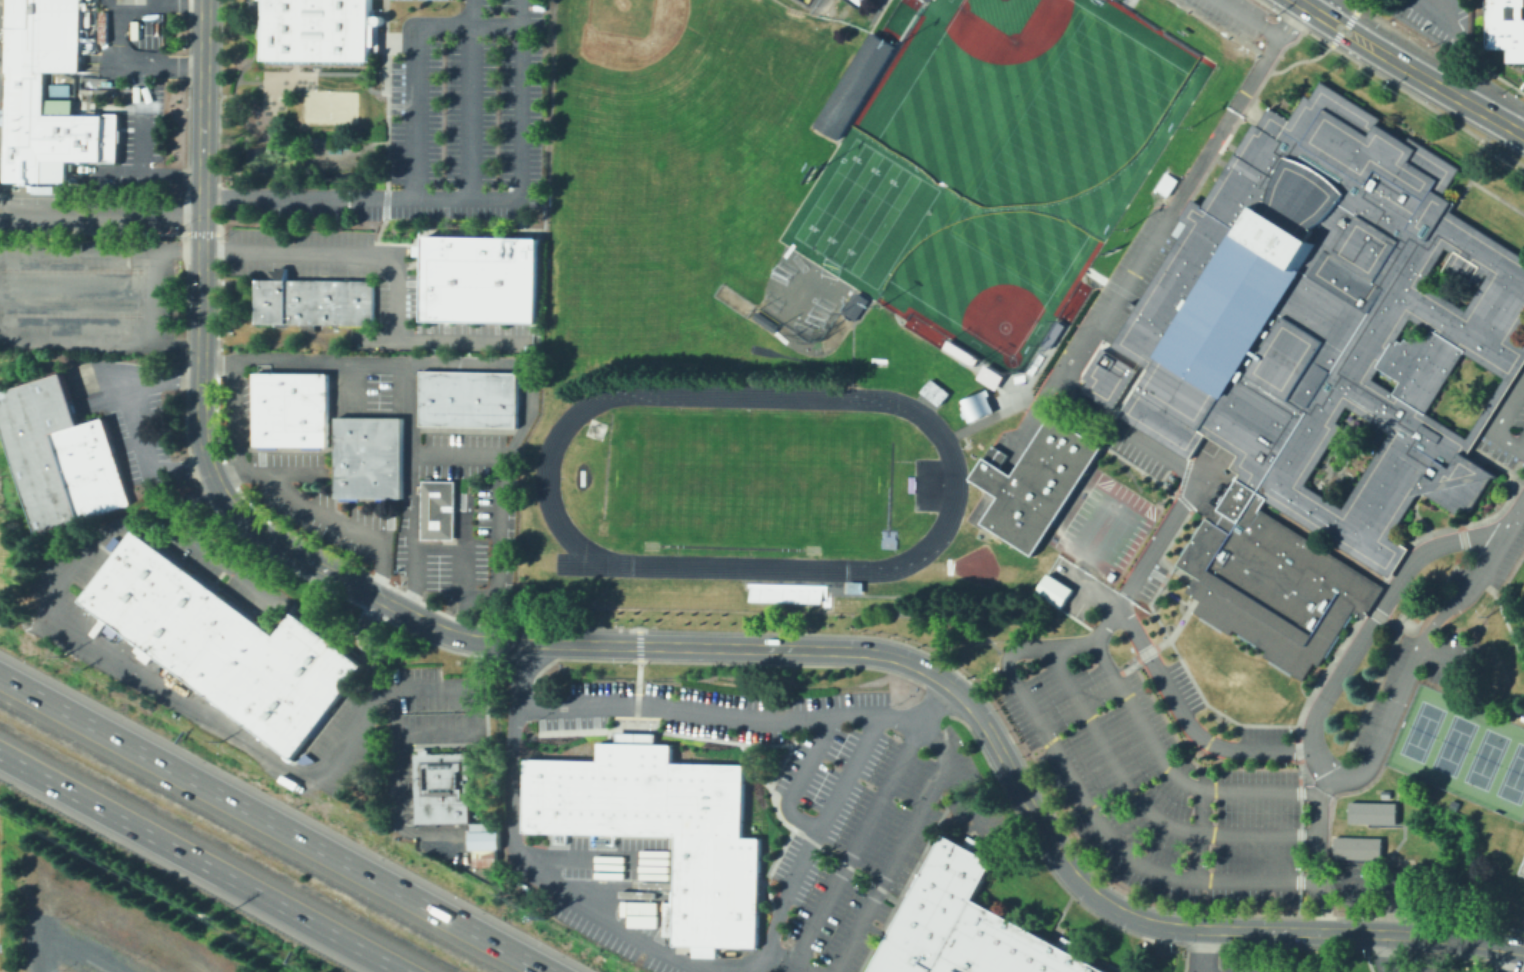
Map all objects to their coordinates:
road: (149, 2)
road: (1124, 2)
road: (1270, 3)
road: (1356, 6)
road: (1310, 8)
road: (1327, 8)
stadium: (810, 9)
parking lot: (1233, 14)
road: (1248, 17)
road: (1286, 17)
park: (896, 19)
road: (1348, 19)
parking lot: (1441, 21)
road: (1349, 22)
building: (85, 26)
building: (1505, 26)
building: (316, 29)
road: (1341, 29)
building: (93, 36)
road: (1334, 37)
road: (1340, 37)
road: (1456, 42)
park: (635, 47)
road: (412, 60)
road: (1294, 60)
road: (173, 68)
road: (141, 78)
building: (23, 83)
building: (852, 83)
building: (90, 84)
building: (107, 84)
building: (57, 88)
road: (1445, 90)
parking lot: (123, 93)
road: (471, 99)
road: (1426, 105)
park: (328, 106)
park: (1029, 106)
road: (1247, 108)
road: (1270, 122)
parking lot: (452, 124)
road: (1521, 127)
road: (1403, 138)
road: (1422, 142)
park: (1064, 151)
building: (1226, 170)
road: (126, 172)
road: (1469, 177)
silo: (74, 180)
road: (1496, 196)
road: (459, 198)
road: (1178, 204)
road: (101, 210)
road: (1191, 211)
park: (864, 212)
road: (1446, 213)
parking lot: (1143, 226)
building: (1178, 227)
park: (633, 230)
building: (1481, 235)
road: (77, 248)
road: (178, 250)
road: (394, 272)
building: (478, 277)
building: (1158, 279)
building: (1451, 279)
park: (991, 280)
road: (76, 292)
parking lot: (89, 292)
park: (731, 298)
building: (312, 299)
parking lot: (397, 300)
park: (1071, 300)
building: (853, 305)
building: (763, 320)
building: (1408, 327)
park: (695, 329)
park: (923, 329)
building: (1050, 333)
road: (117, 334)
road: (1088, 340)
road: (201, 342)
parking lot: (1071, 345)
road: (1513, 345)
building: (958, 351)
track: (777, 353)
road: (1116, 353)
building: (1310, 359)
road: (1146, 360)
road: (459, 362)
building: (988, 376)
building: (1106, 377)
building: (1378, 379)
road: (347, 383)
building: (289, 389)
building: (932, 390)
road: (1126, 391)
building: (1496, 392)
building: (431, 396)
building: (455, 397)
building: (480, 397)
building: (504, 398)
road: (1492, 399)
road: (1020, 400)
building: (975, 405)
parking lot: (129, 415)
road: (138, 419)
road: (1497, 420)
parking lot: (1507, 426)
building: (271, 427)
building: (309, 427)
road: (1204, 429)
road: (1015, 441)
building: (1225, 446)
road: (1462, 446)
road: (1522, 447)
road: (1193, 449)
building: (59, 453)
parking lot: (1134, 454)
road: (1473, 454)
building: (351, 456)
building: (384, 456)
building: (1343, 456)
park: (648, 462)
building: (987, 465)
road: (289, 474)
road: (229, 475)
park: (747, 479)
parking lot: (284, 481)
track: (954, 481)
building: (997, 481)
building: (1040, 483)
track: (888, 485)
road: (410, 488)
park: (885, 506)
building: (436, 508)
road: (1497, 510)
road: (1415, 514)
building: (1299, 517)
parking lot: (1101, 525)
road: (1177, 528)
road: (498, 538)
road: (1389, 542)
road: (436, 546)
track: (729, 546)
parking lot: (1494, 548)
road: (211, 551)
road: (1393, 559)
road: (1084, 562)
park: (948, 565)
road: (463, 578)
road: (1382, 580)
parking lot: (1149, 581)
road: (1196, 581)
building: (1188, 583)
building: (852, 586)
building: (1195, 586)
parking lot: (1076, 588)
building: (1052, 589)
road: (1199, 589)
building: (1191, 594)
road: (1174, 595)
park: (1521, 596)
road: (1430, 598)
road: (1368, 600)
building: (1366, 601)
road: (1365, 607)
building: (1364, 610)
building: (1356, 614)
road: (916, 615)
building: (1346, 619)
building: (1209, 623)
road: (1369, 624)
road: (1507, 626)
road: (445, 631)
parking lot: (83, 639)
building: (1247, 640)
road: (1159, 642)
building: (223, 643)
building: (1330, 645)
building: (141, 652)
parking lot: (1451, 662)
building: (1278, 667)
road: (1188, 676)
parking lot: (1184, 684)
parking lot: (1390, 700)
road: (1390, 715)
road: (740, 720)
road: (1187, 722)
road: (478, 727)
park: (1420, 731)
parking lot: (1263, 733)
road: (393, 740)
park: (1452, 744)
park: (1484, 758)
road: (1301, 768)
road: (950, 769)
road: (1172, 771)
park: (1513, 775)
road: (307, 777)
road: (798, 779)
road: (1075, 783)
parking lot: (400, 786)
building: (439, 786)
road: (1021, 792)
building: (1383, 793)
road: (1141, 803)
parking lot: (1177, 803)
building: (1452, 804)
building: (1371, 811)
parking lot: (802, 812)
road: (275, 823)
building: (660, 828)
road: (1200, 835)
road: (853, 840)
building: (483, 842)
road: (813, 843)
building: (427, 845)
building: (1356, 846)
road: (207, 858)
road: (519, 858)
road: (890, 867)
road: (96, 903)
building: (646, 921)
building: (965, 925)
road: (1204, 951)
road: (81, 952)
road: (1383, 952)
road: (786, 959)
road: (1508, 959)
parking lot: (1266, 964)
parking lot: (1430, 970)

